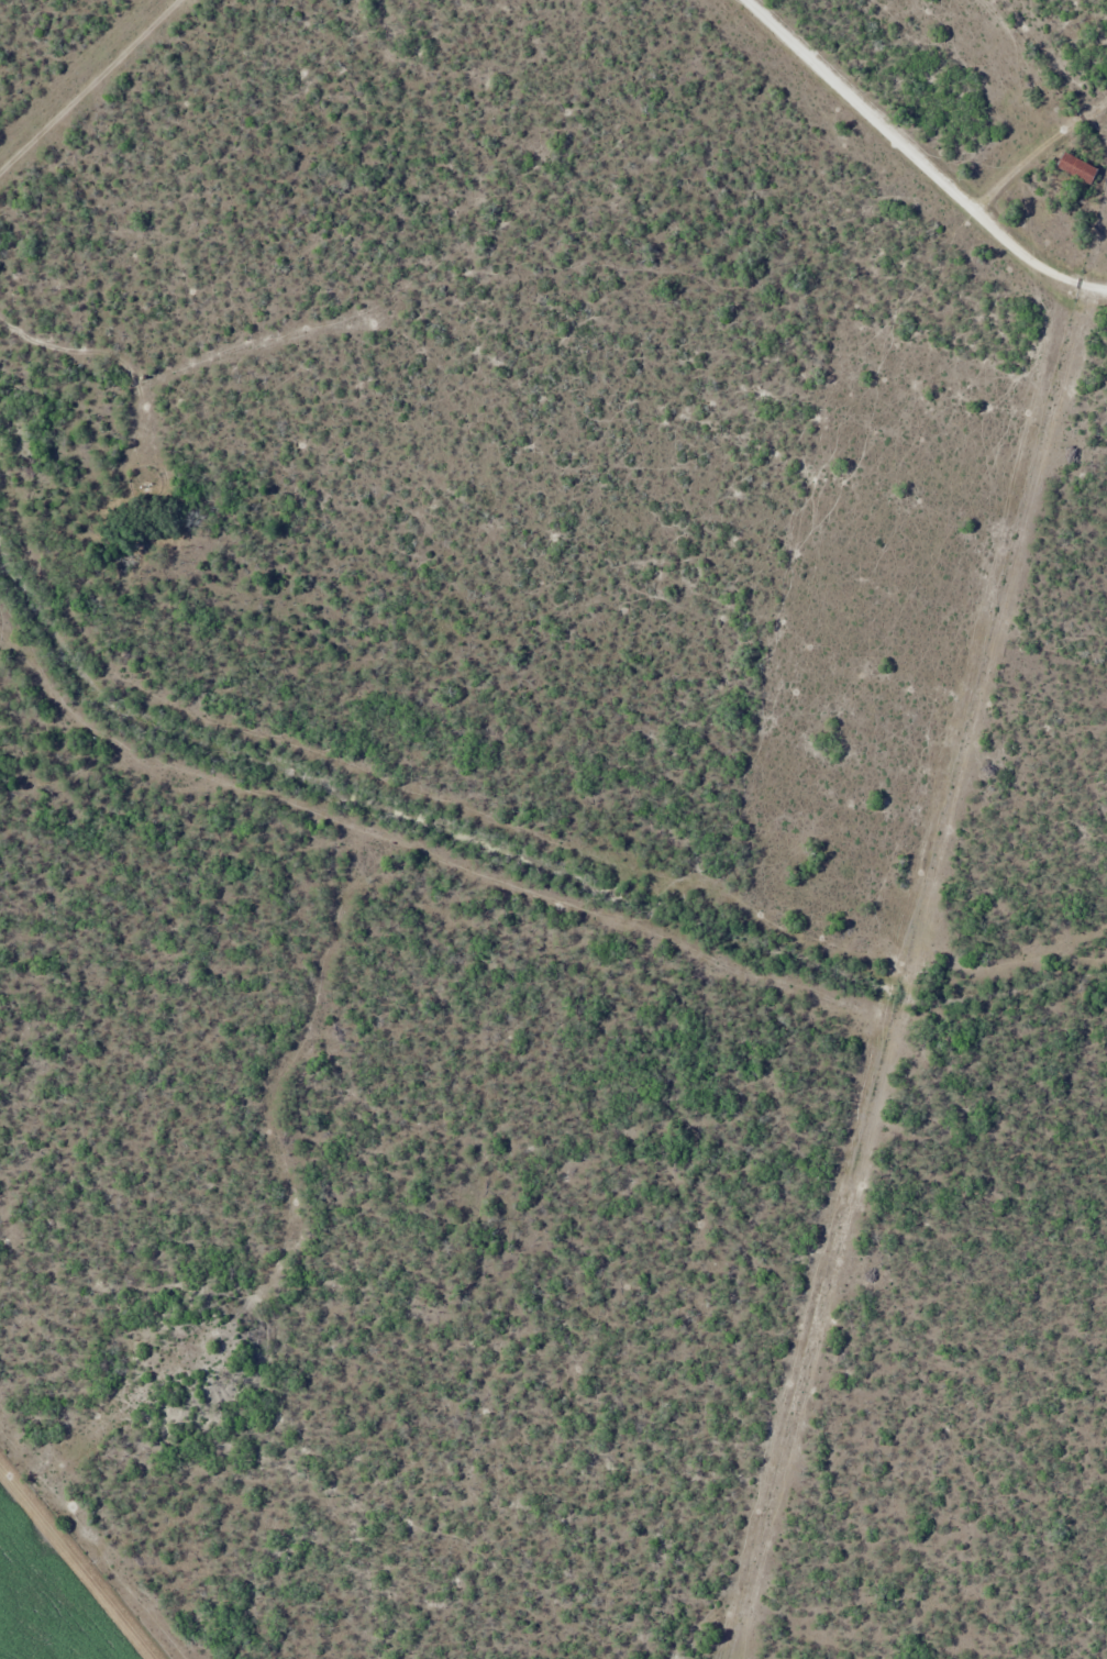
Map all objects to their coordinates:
road: (917, 165)
building: (1080, 168)

